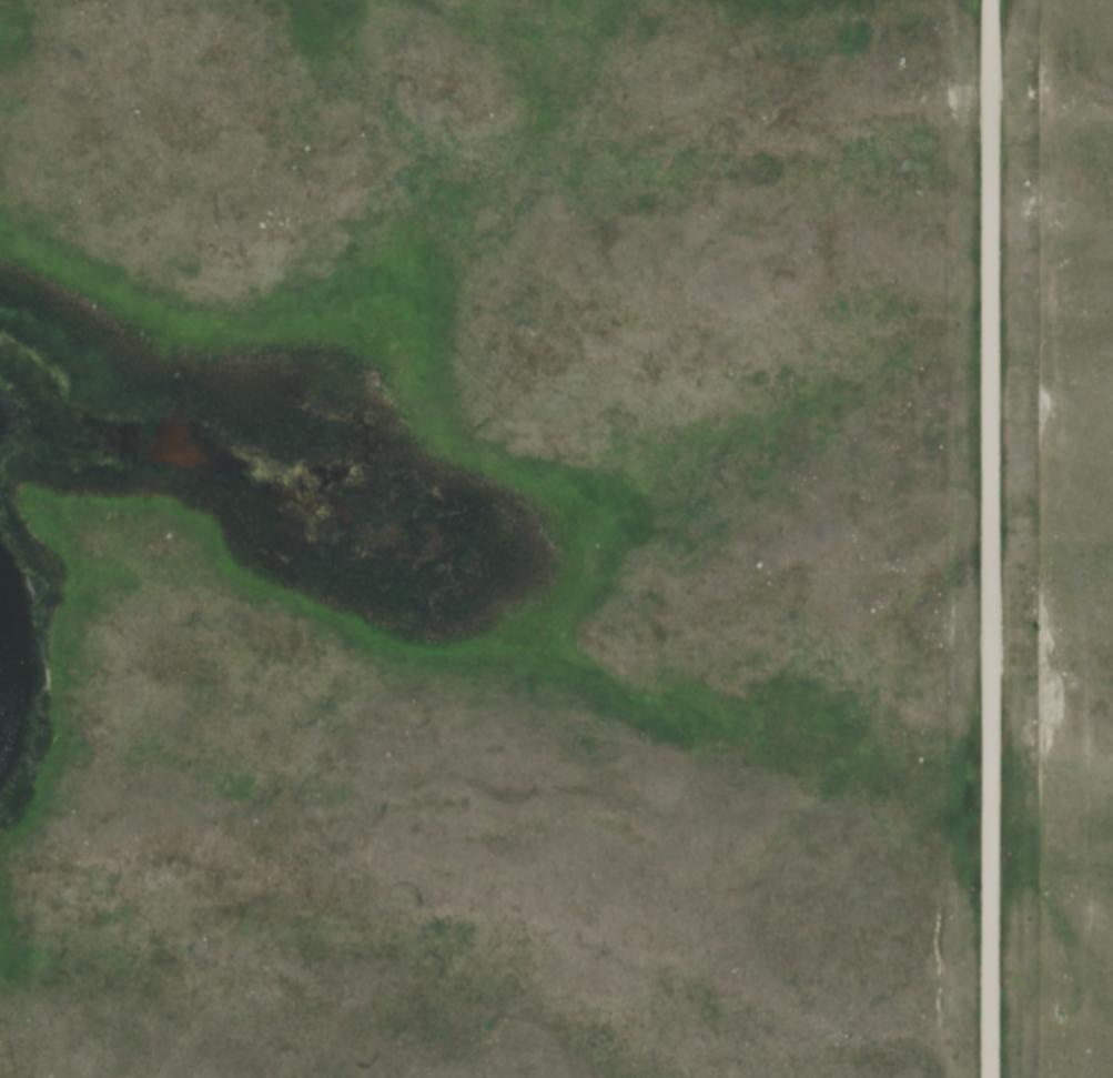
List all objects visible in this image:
road: (991, 538)

